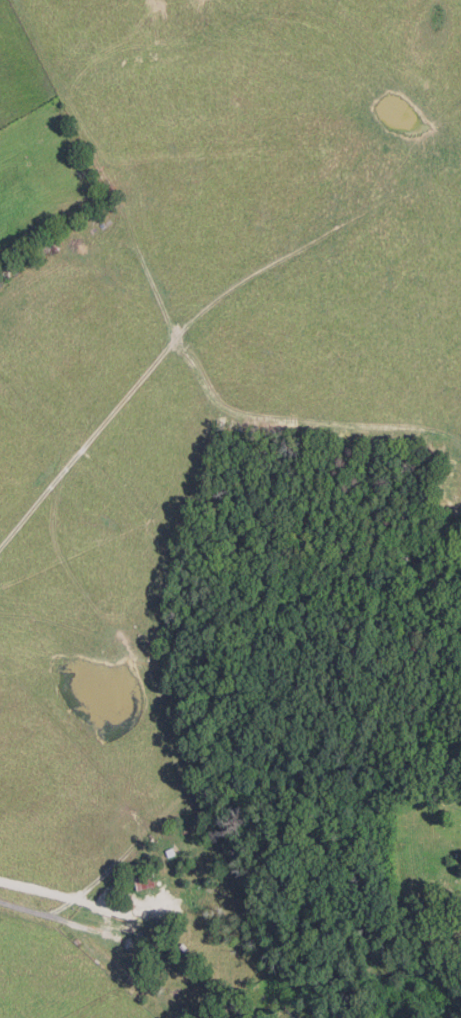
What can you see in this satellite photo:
road: (82, 443)
building: (170, 851)
building: (144, 880)
road: (42, 911)

